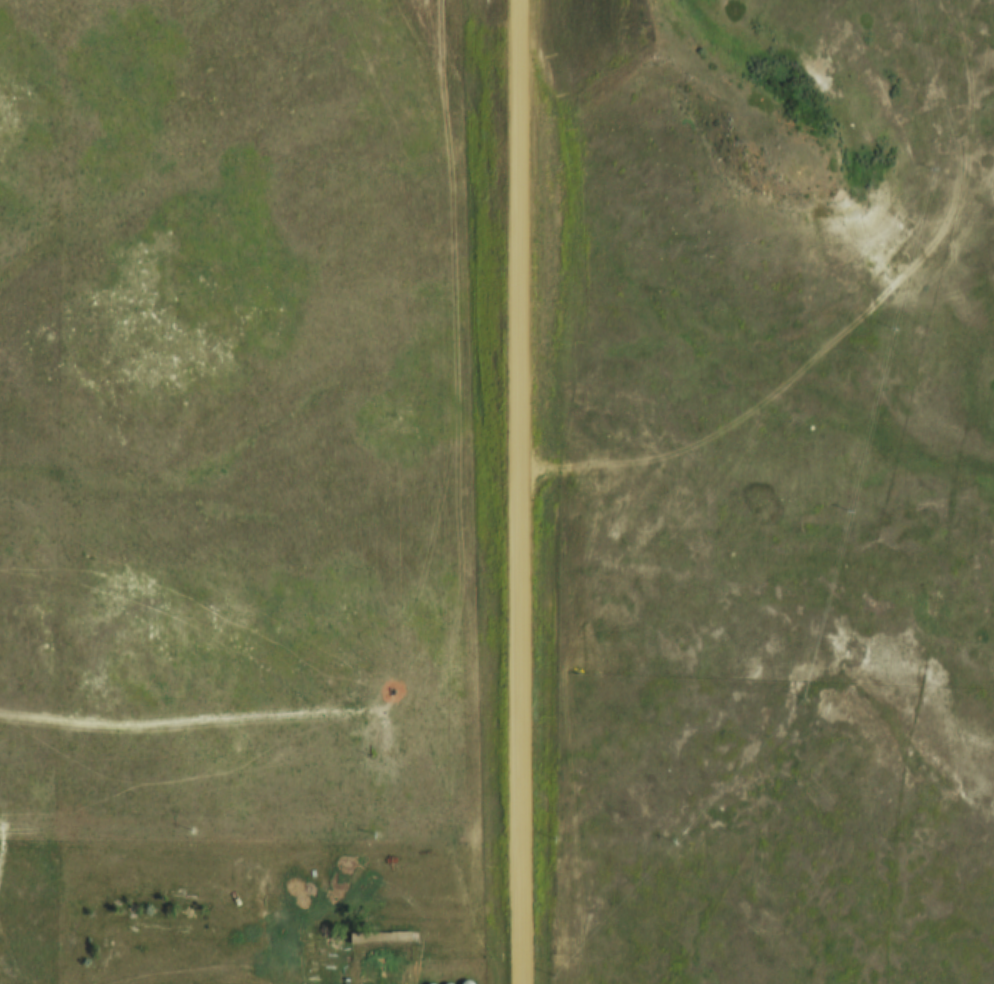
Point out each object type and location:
road: (521, 485)

